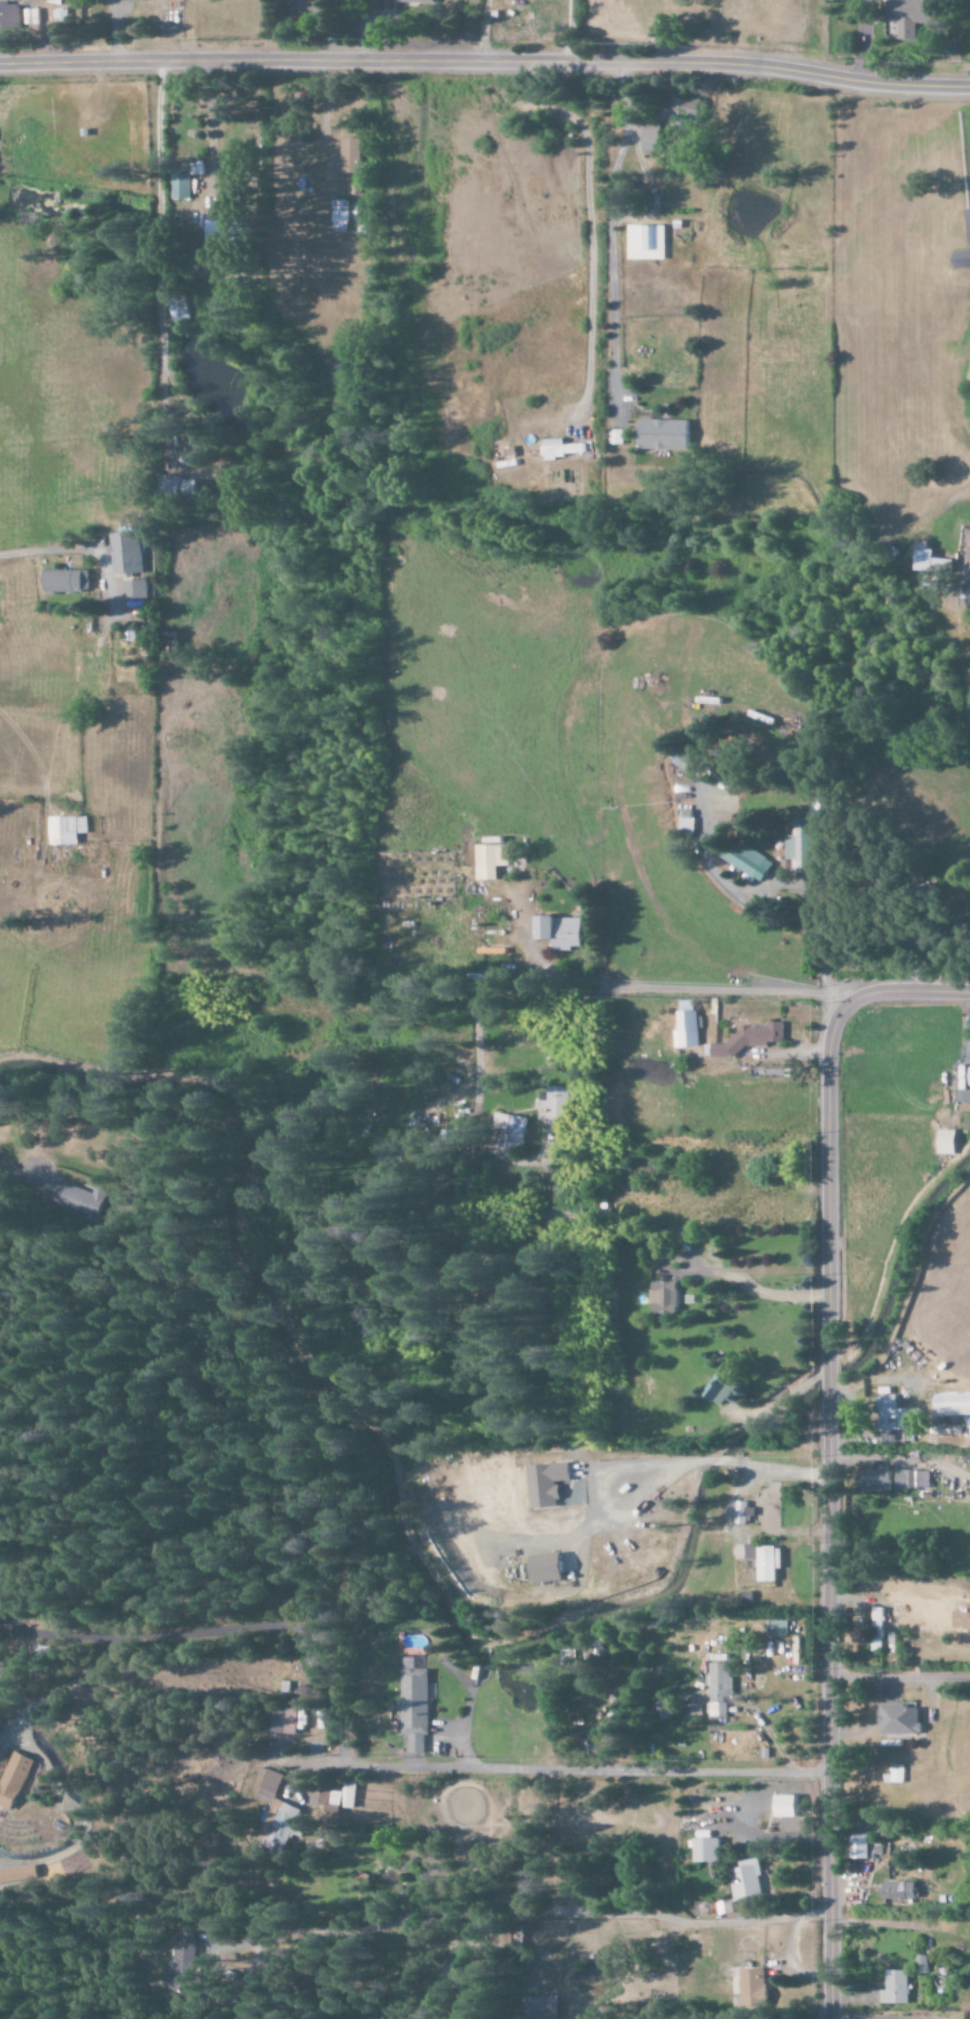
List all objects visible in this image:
building: (416, 2)
building: (305, 8)
building: (1, 13)
building: (910, 16)
building: (60, 28)
road: (485, 61)
building: (685, 114)
building: (654, 140)
building: (354, 156)
building: (183, 186)
building: (344, 215)
building: (236, 230)
building: (648, 243)
building: (964, 251)
road: (157, 267)
building: (181, 307)
building: (665, 435)
building: (563, 448)
building: (184, 488)
road: (54, 551)
building: (128, 553)
building: (969, 554)
building: (932, 560)
building: (68, 580)
building: (136, 589)
building: (684, 761)
building: (690, 820)
building: (68, 829)
building: (810, 839)
building: (745, 857)
building: (491, 861)
building: (563, 932)
road: (906, 989)
building: (751, 1039)
building: (555, 1106)
building: (0, 1122)
building: (510, 1132)
building: (452, 1139)
building: (948, 1142)
building: (395, 1163)
road: (9, 1171)
road: (821, 1171)
building: (76, 1198)
building: (665, 1297)
road: (821, 1384)
building: (719, 1389)
building: (953, 1404)
building: (892, 1414)
building: (907, 1479)
building: (877, 1480)
building: (548, 1484)
building: (744, 1513)
building: (766, 1561)
building: (550, 1568)
building: (780, 1628)
building: (877, 1629)
road: (895, 1678)
building: (720, 1684)
building: (415, 1705)
building: (287, 1720)
road: (820, 1720)
building: (902, 1720)
building: (16, 1780)
building: (341, 1796)
building: (788, 1806)
building: (0, 1808)
building: (278, 1813)
building: (861, 1846)
building: (708, 1850)
building: (17, 1874)
building: (749, 1879)
building: (900, 1890)
building: (922, 1963)
building: (182, 1968)
building: (754, 1984)
building: (896, 1987)
building: (545, 2007)

